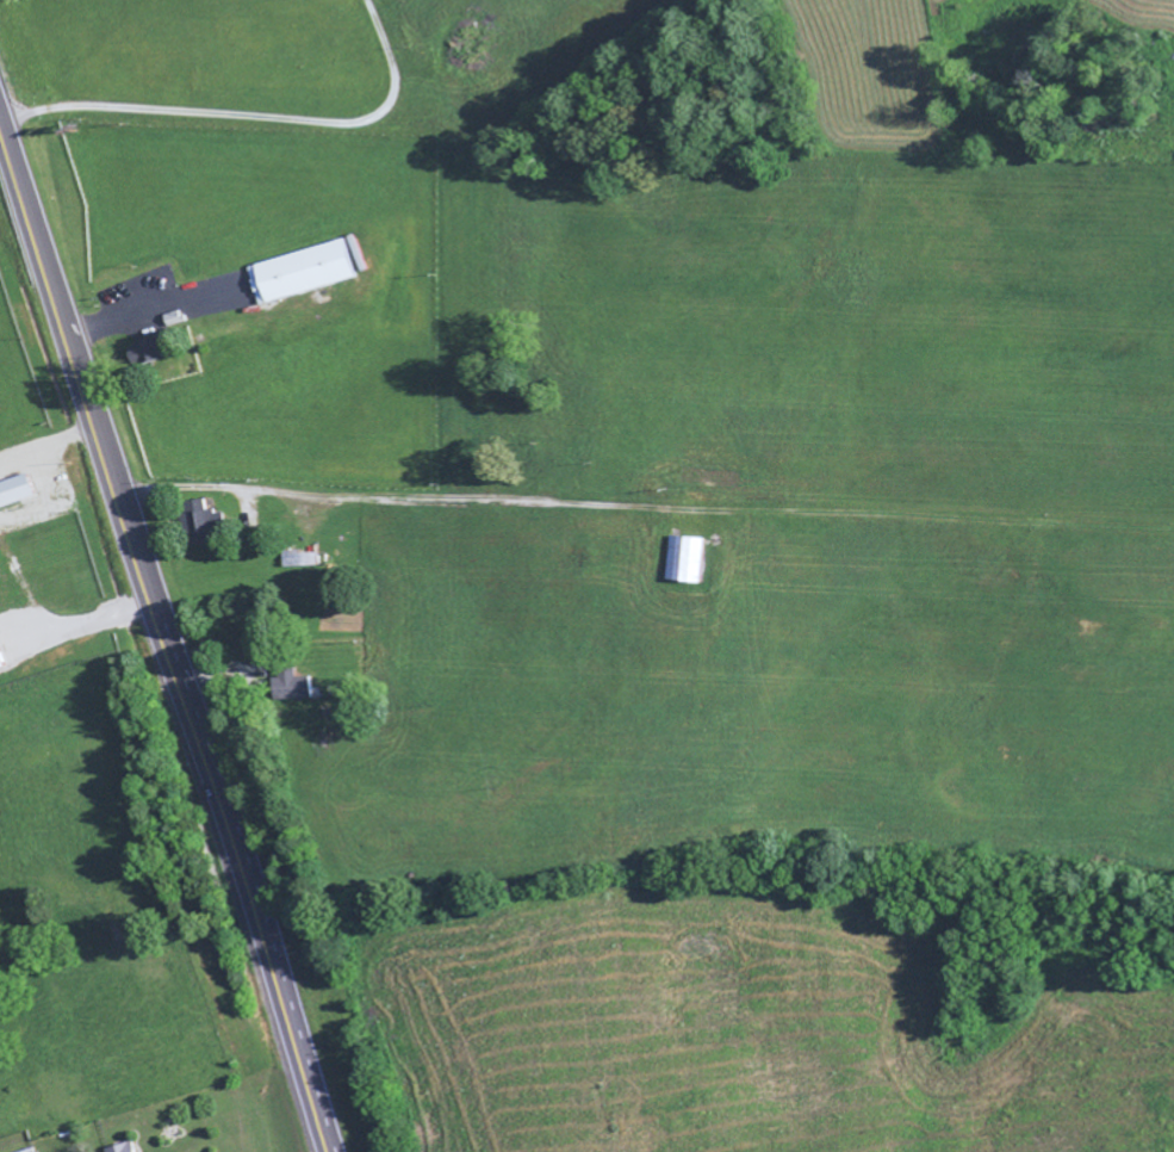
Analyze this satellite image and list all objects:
road: (251, 116)
building: (312, 271)
building: (156, 351)
road: (346, 497)
building: (201, 520)
building: (685, 557)
building: (303, 558)
road: (167, 636)
building: (1, 661)
building: (294, 683)
building: (120, 1147)

